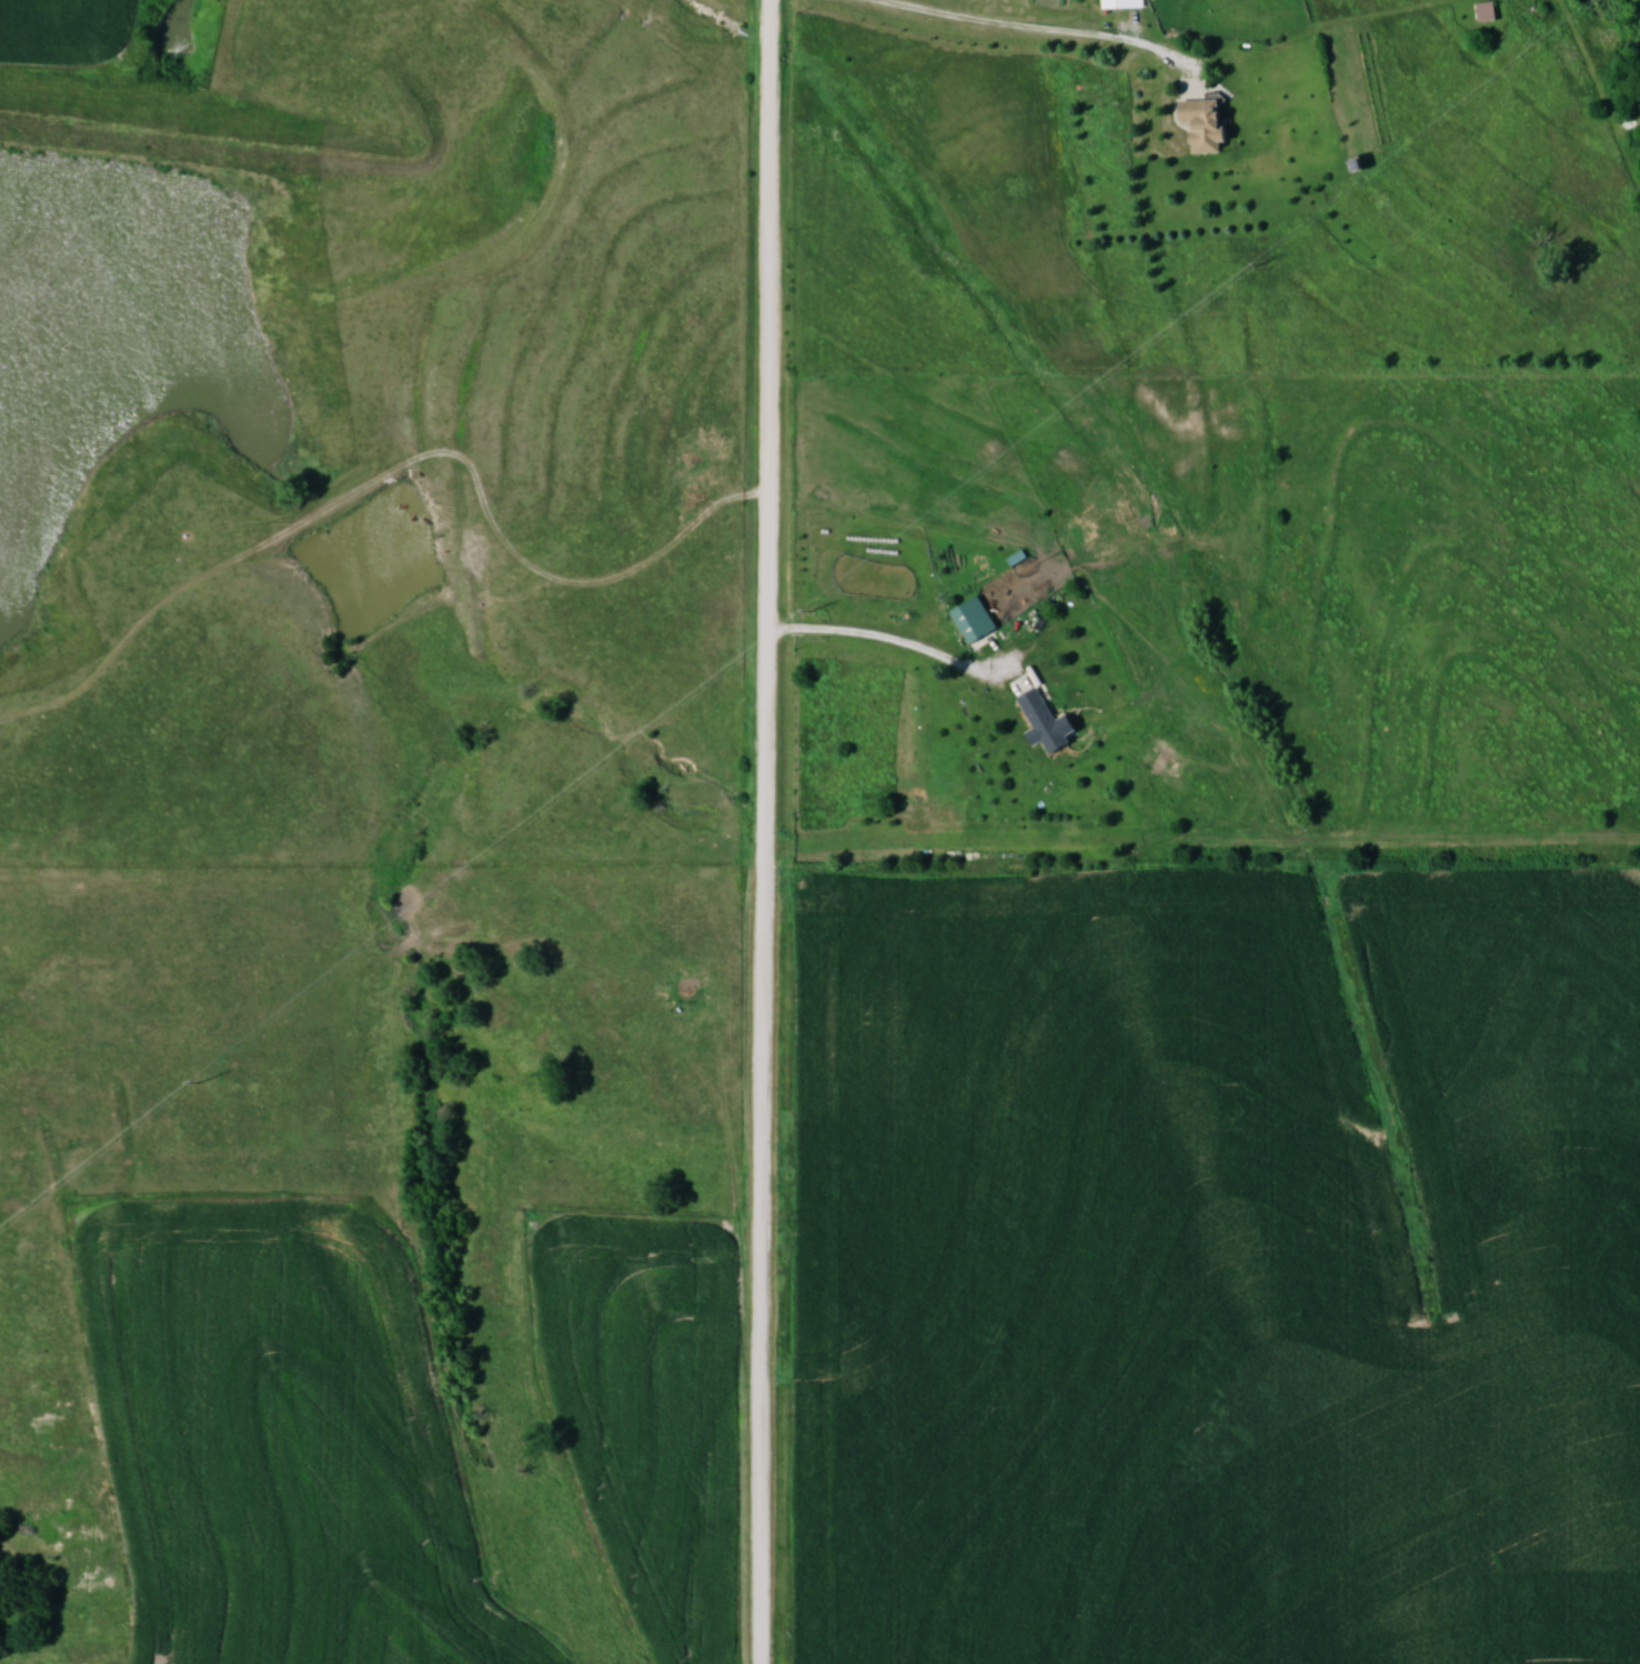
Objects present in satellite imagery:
building: (1119, 1)
building: (1487, 11)
road: (1039, 28)
building: (1206, 123)
building: (975, 619)
road: (901, 648)
building: (1045, 721)
building: (948, 780)
road: (771, 832)

